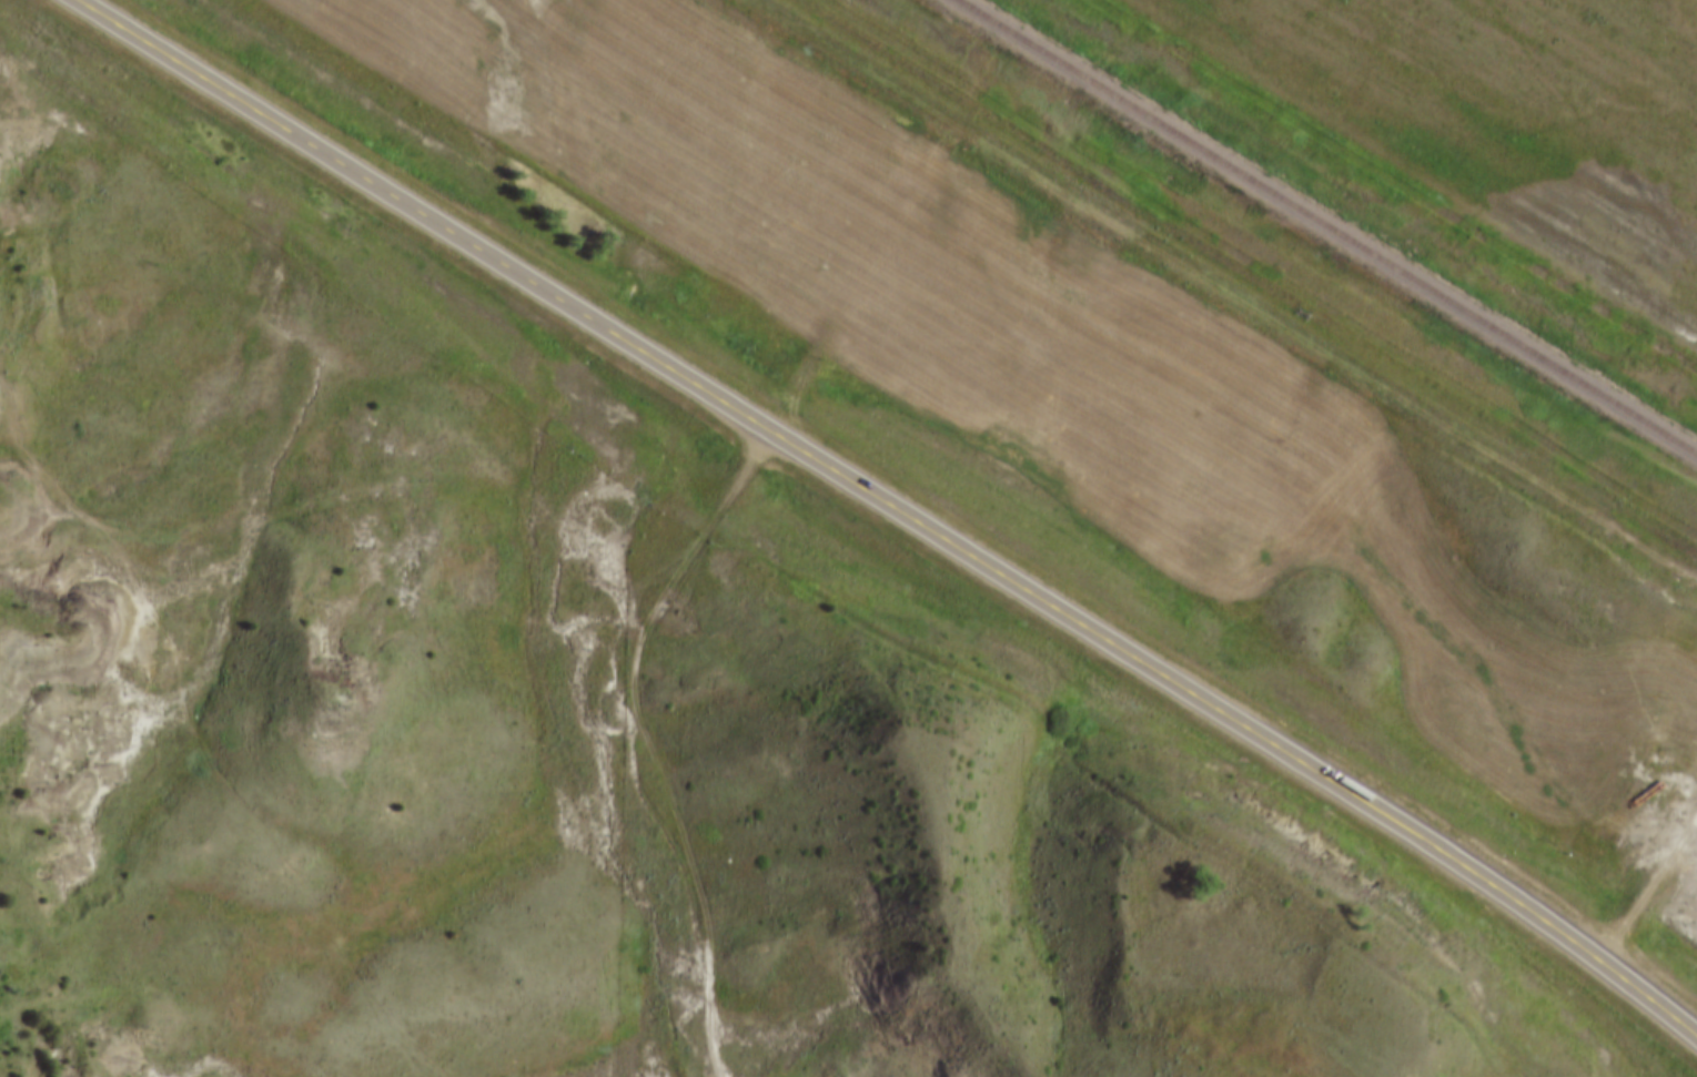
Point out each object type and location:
railway: (1326, 226)
road: (1222, 289)
road: (26, 445)
road: (899, 508)
road: (651, 735)

